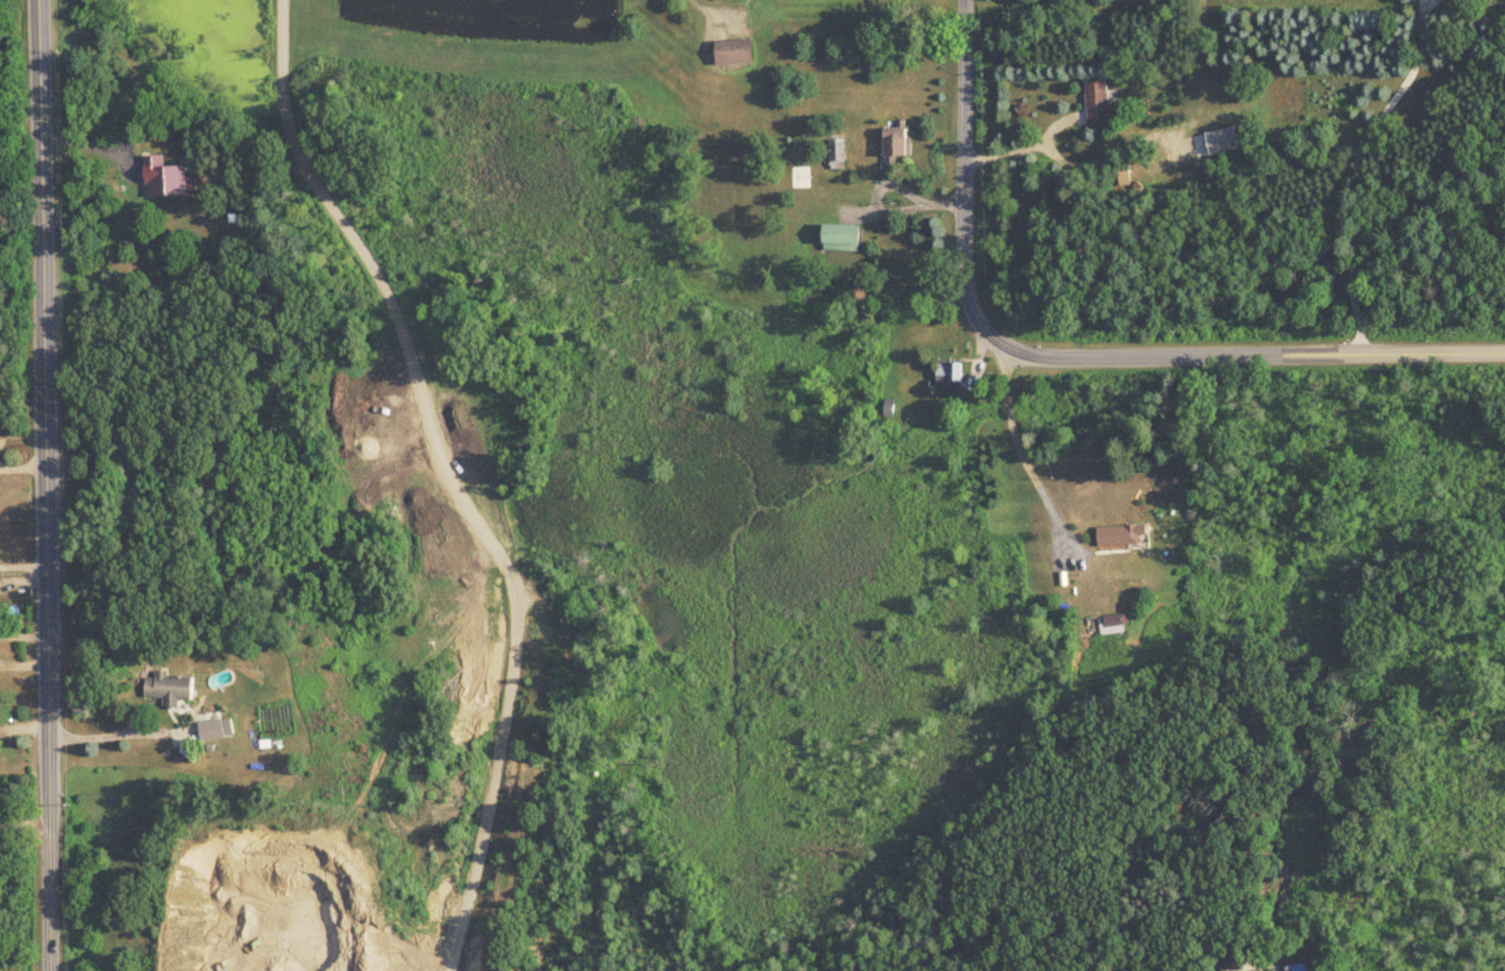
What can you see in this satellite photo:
road: (701, 15)
building: (0, 20)
building: (736, 53)
building: (1098, 104)
building: (899, 141)
road: (1016, 144)
road: (1351, 166)
road: (292, 182)
road: (962, 215)
building: (844, 237)
road: (1289, 355)
building: (951, 376)
road: (22, 437)
road: (1015, 437)
road: (22, 467)
road: (45, 485)
building: (1122, 535)
building: (1116, 626)
building: (171, 688)
building: (213, 727)
road: (103, 731)
road: (23, 824)
road: (5, 837)

